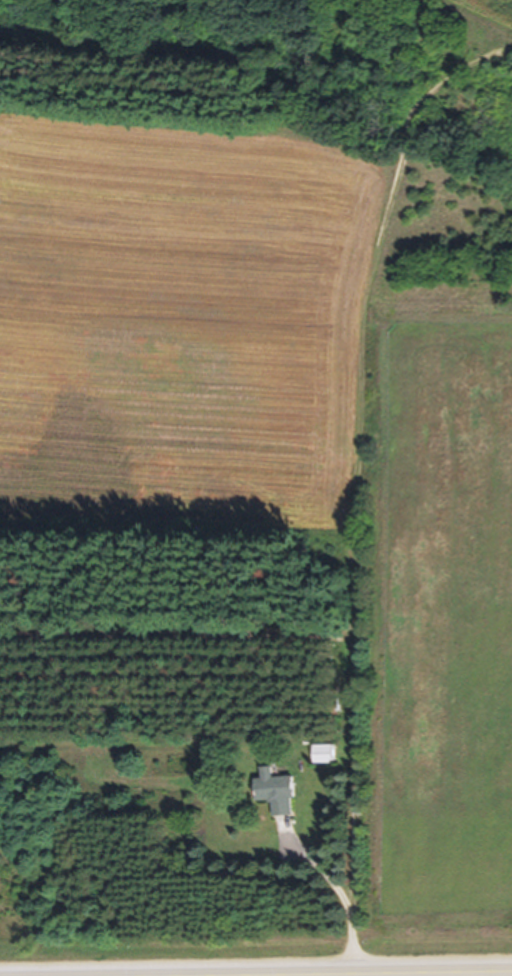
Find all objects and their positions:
building: (316, 761)
building: (269, 796)
road: (338, 890)

